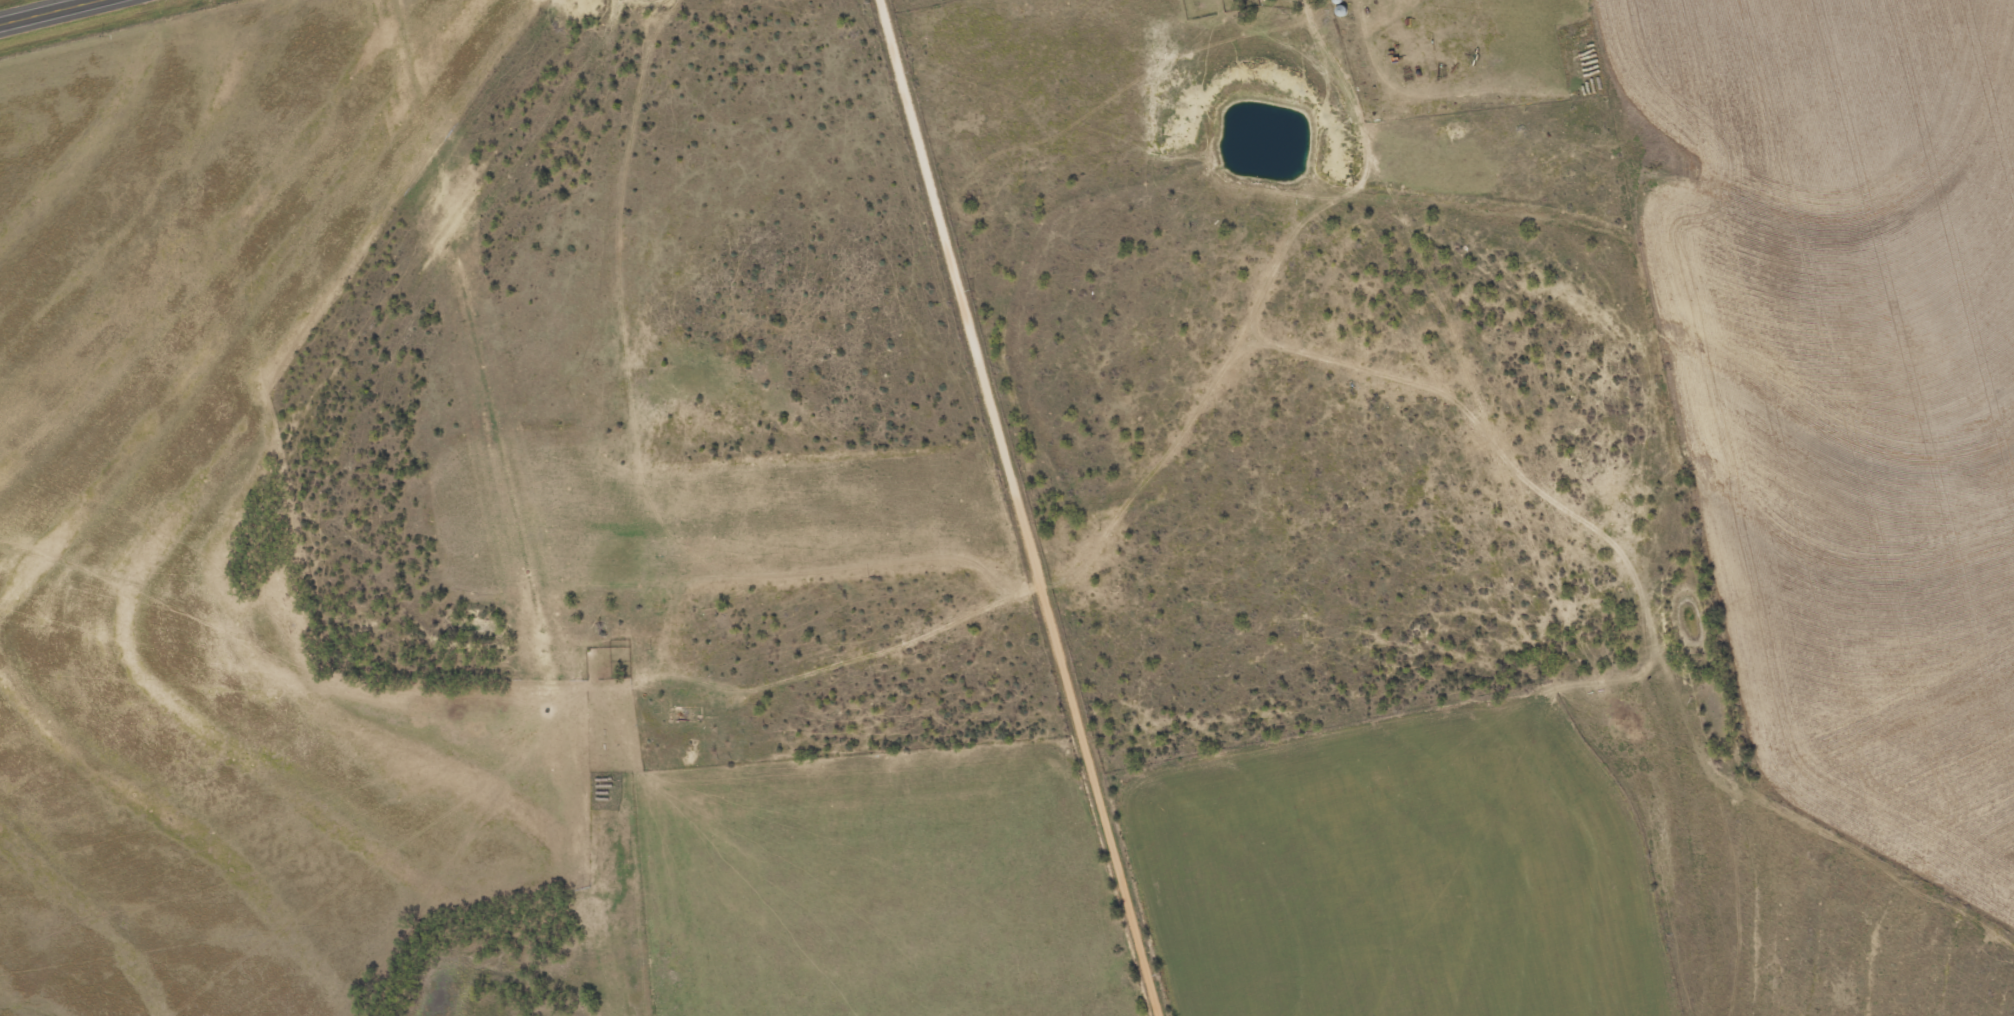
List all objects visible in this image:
road: (45, 11)
road: (1259, 306)
road: (1019, 506)

